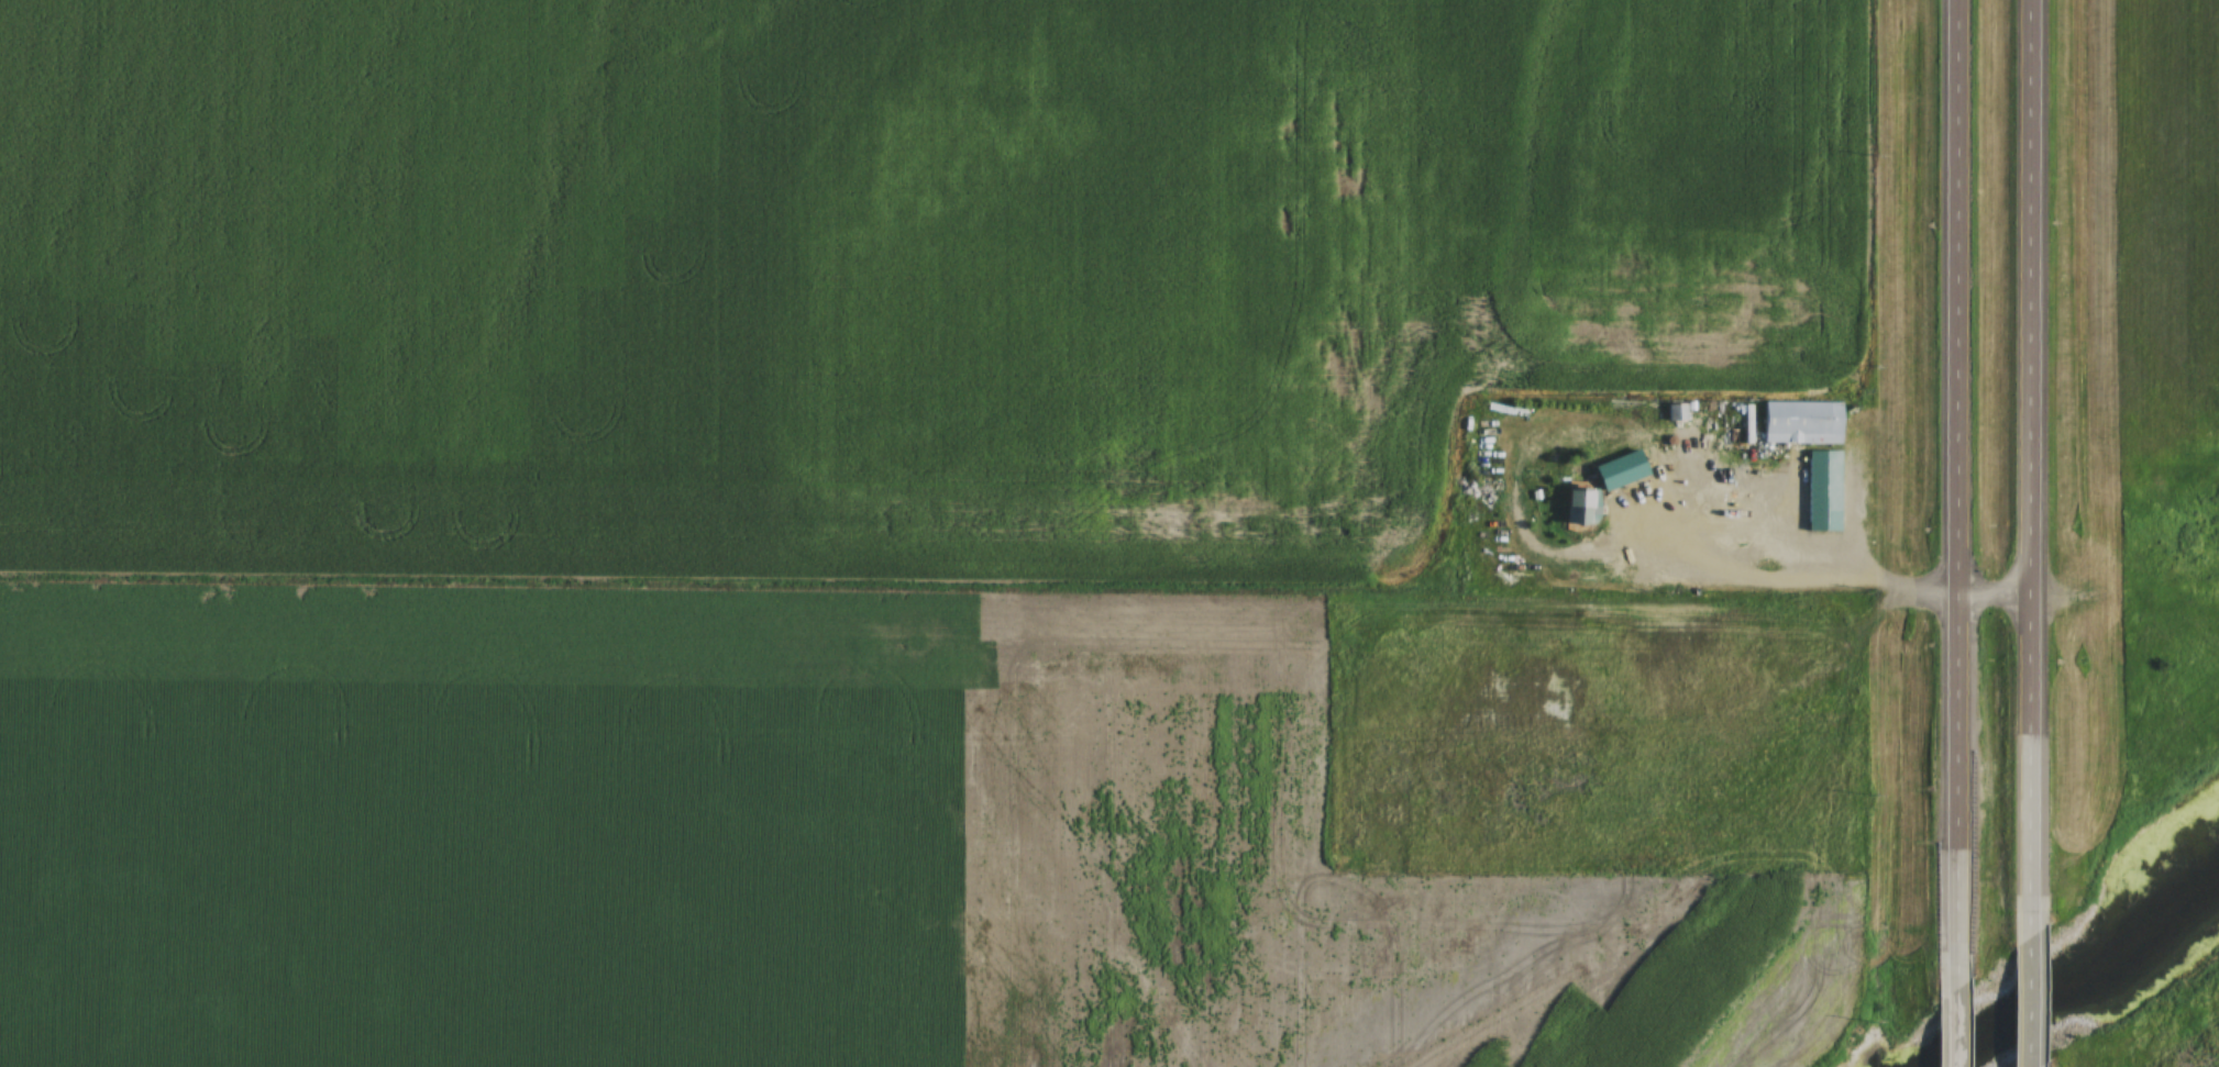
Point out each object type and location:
building: (1792, 400)
building: (1801, 422)
building: (1619, 468)
road: (2021, 468)
building: (1813, 470)
road: (1942, 496)
building: (1577, 507)
river: (2089, 971)
road: (2020, 1001)
road: (1941, 1029)

